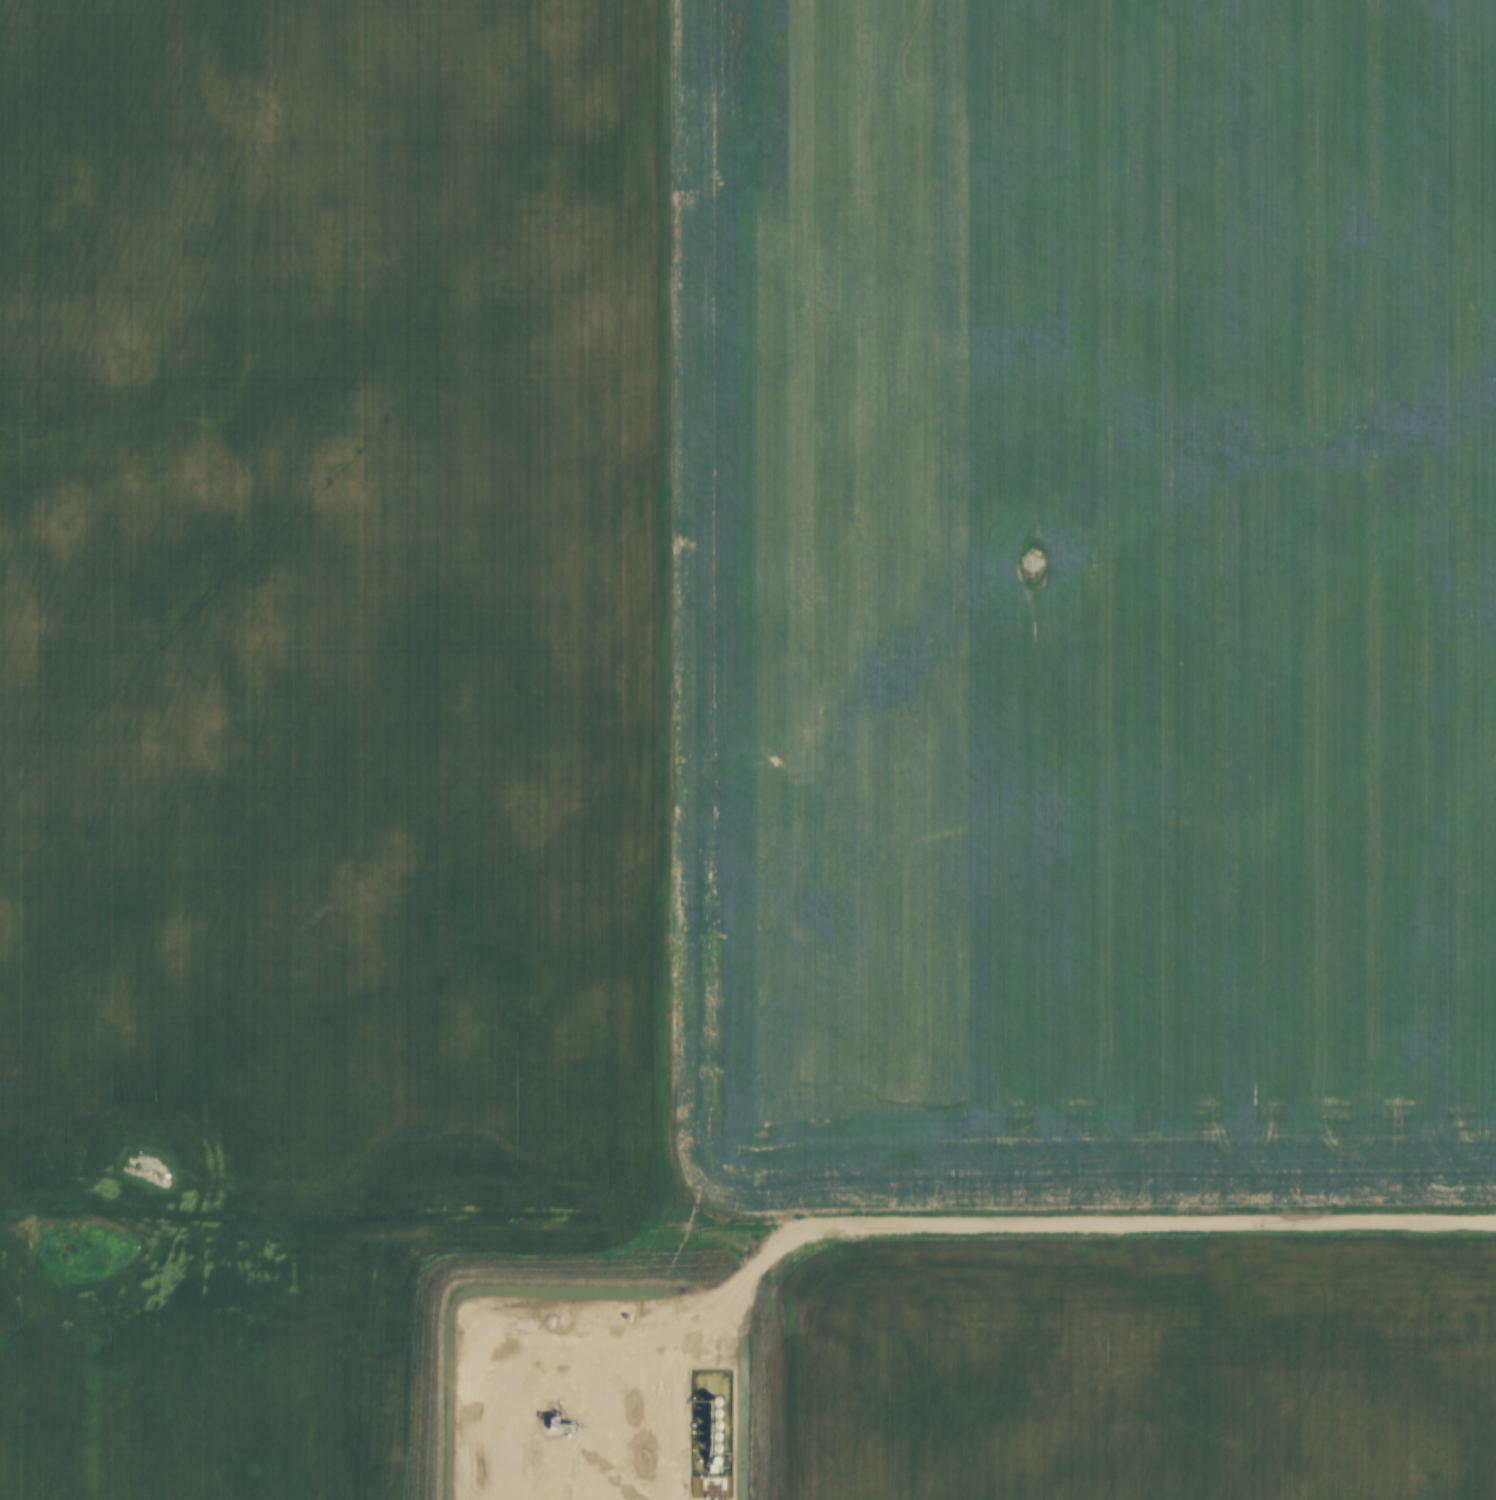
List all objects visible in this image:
road: (744, 1227)

